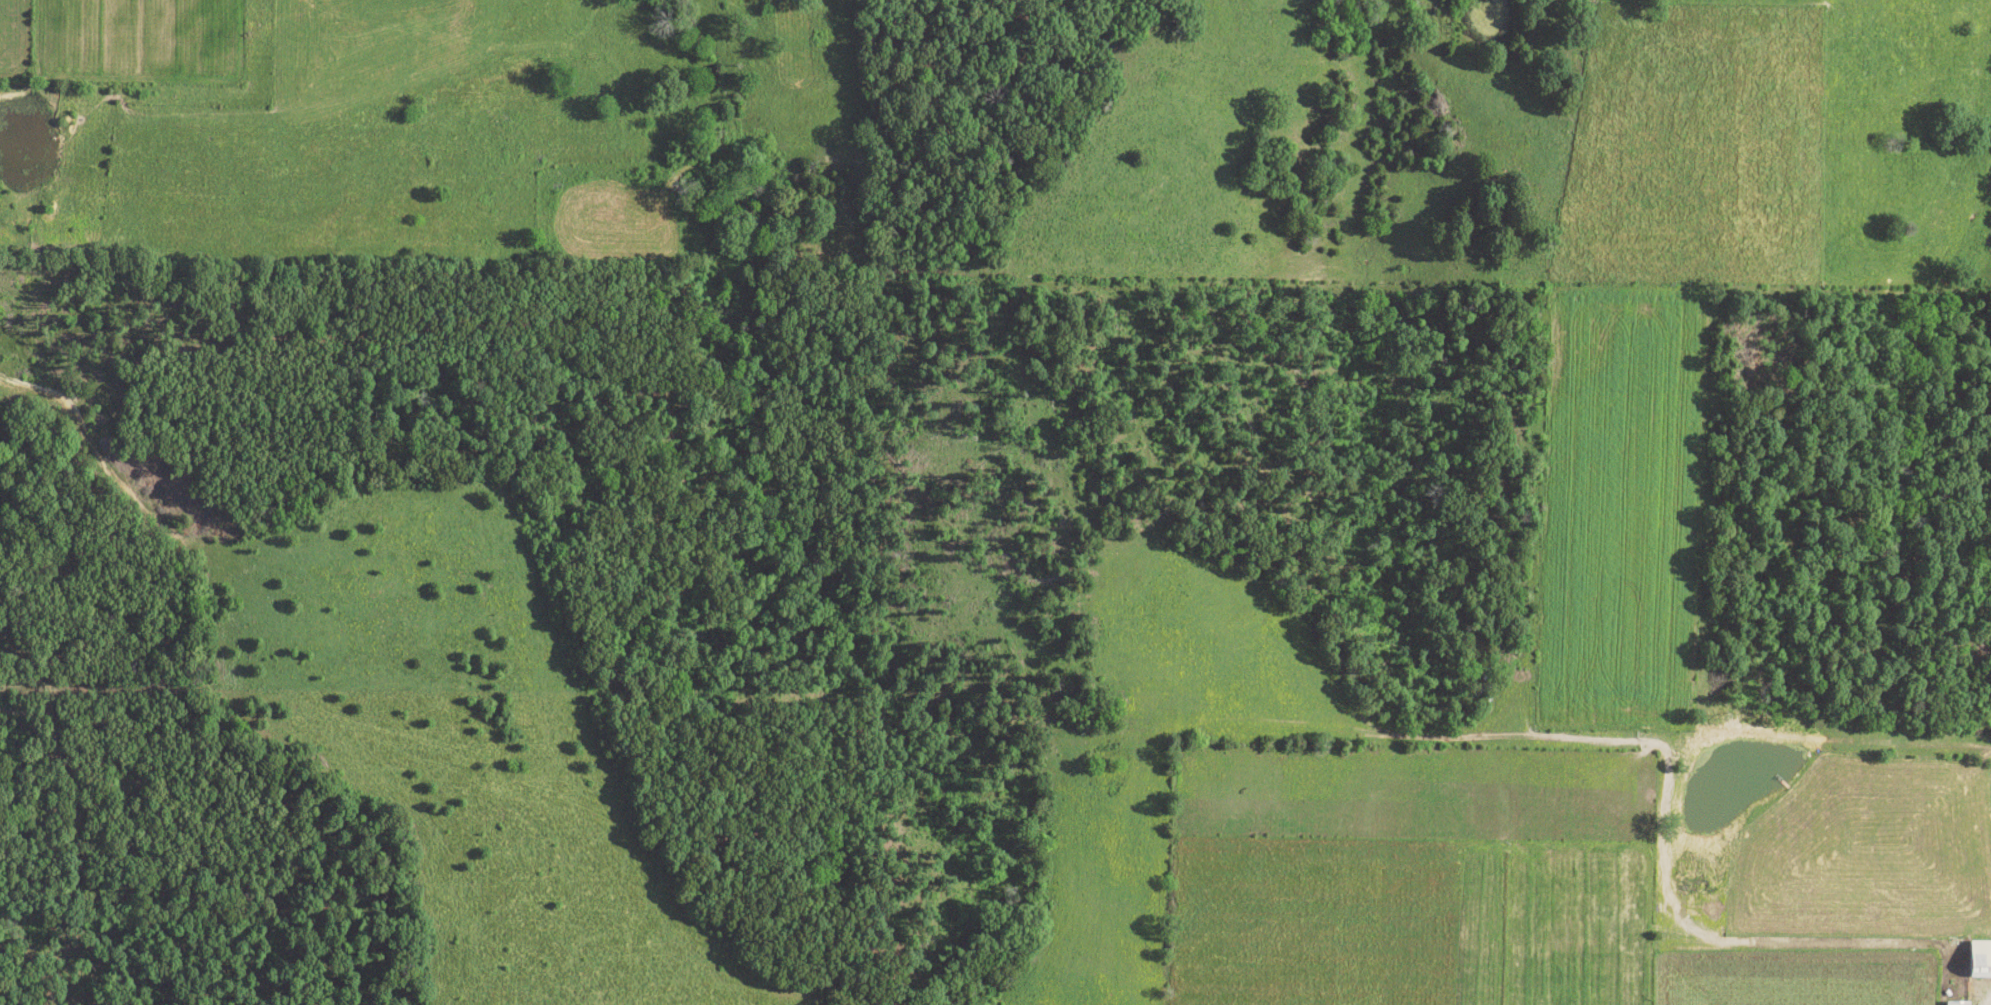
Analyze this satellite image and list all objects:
road: (1680, 35)
building: (1979, 959)
road: (1990, 1003)
building: (1957, 1004)

